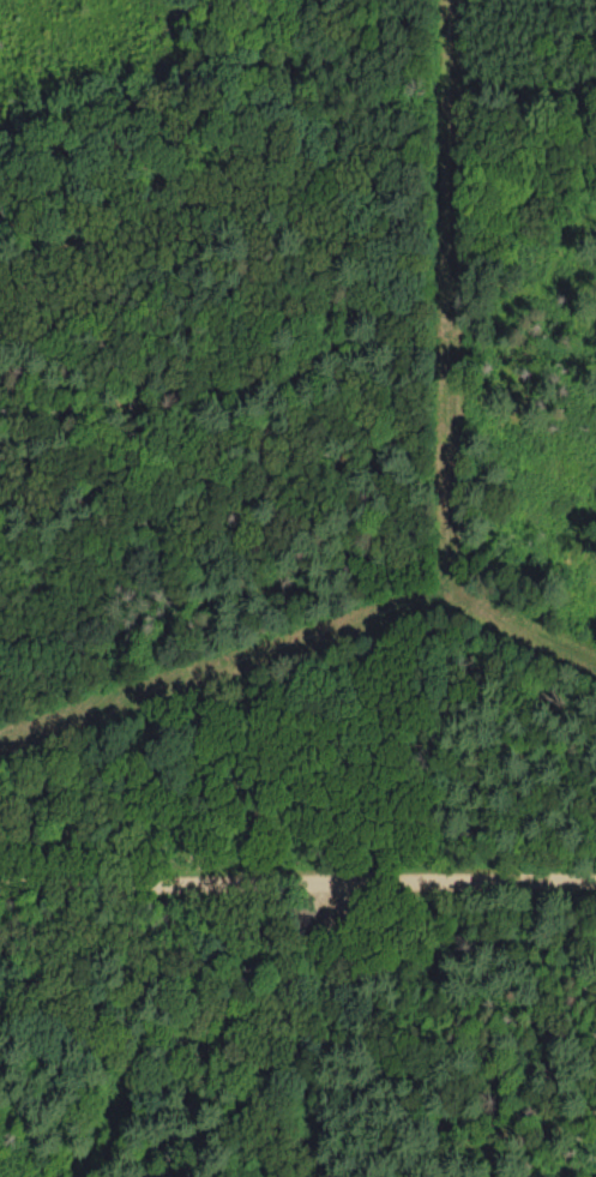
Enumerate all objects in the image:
road: (297, 887)

